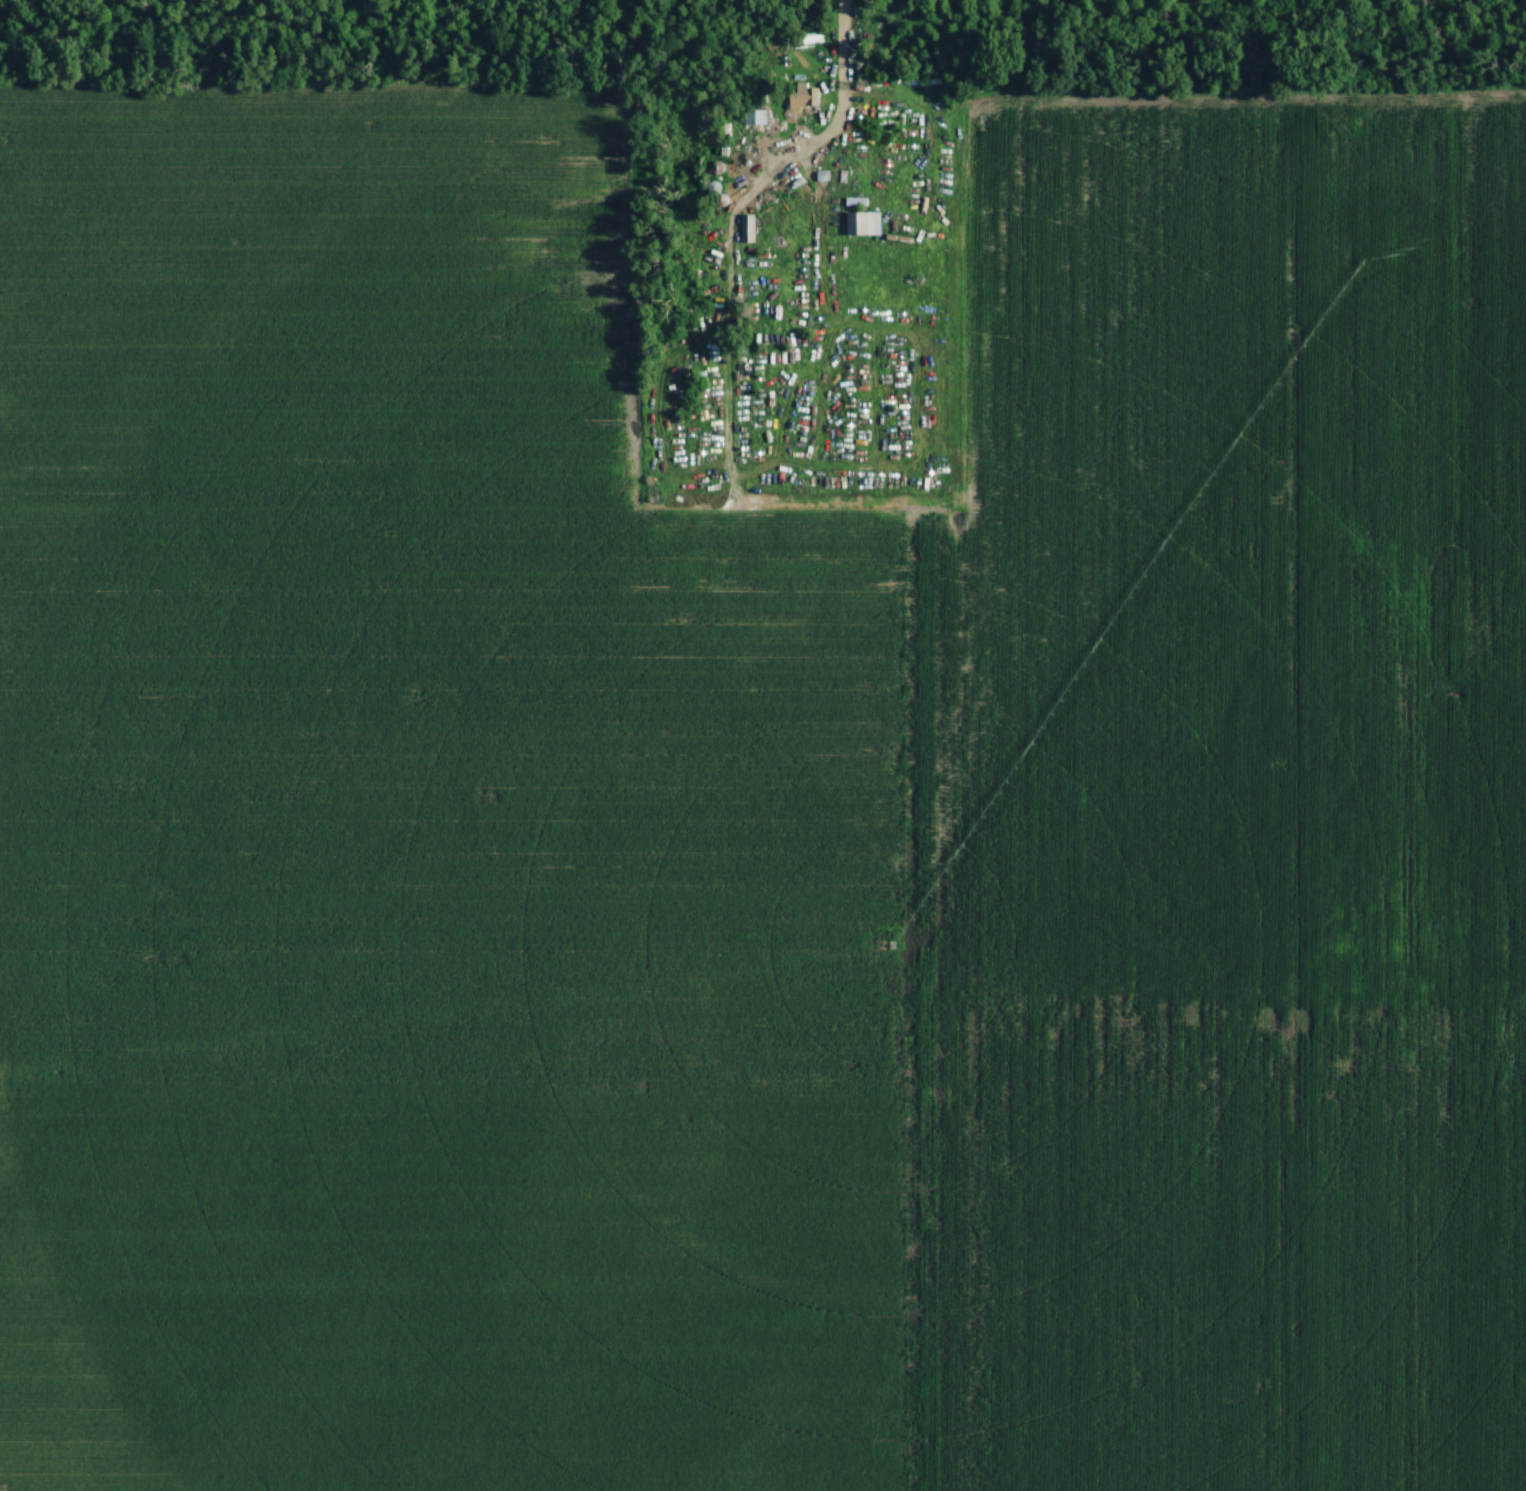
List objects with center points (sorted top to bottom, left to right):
road: (840, 82)
building: (804, 96)
building: (864, 224)

